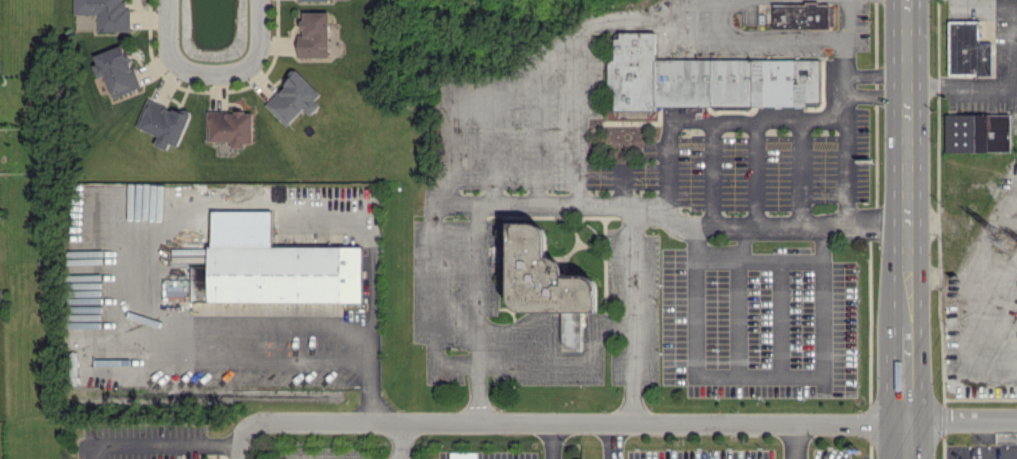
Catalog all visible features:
road: (984, 2)
building: (107, 12)
building: (800, 15)
building: (314, 34)
parking lot: (1005, 39)
road: (1009, 43)
building: (965, 49)
road: (541, 50)
road: (840, 55)
building: (115, 65)
road: (215, 72)
road: (873, 72)
building: (702, 79)
road: (961, 84)
building: (294, 93)
road: (873, 96)
road: (575, 116)
road: (702, 117)
building: (164, 118)
building: (230, 123)
building: (976, 133)
road: (906, 161)
road: (710, 170)
road: (754, 170)
road: (796, 170)
road: (190, 218)
road: (1012, 220)
road: (673, 224)
power tower: (1007, 239)
road: (998, 272)
building: (279, 274)
building: (548, 282)
road: (429, 283)
parking lot: (986, 298)
road: (963, 300)
road: (472, 311)
road: (990, 312)
road: (258, 359)
road: (731, 366)
building: (72, 367)
road: (908, 371)
road: (743, 385)
road: (633, 420)
road: (790, 439)
road: (909, 439)
road: (398, 440)
road: (545, 440)
road: (606, 440)
road: (189, 446)
road: (97, 447)
road: (239, 452)

